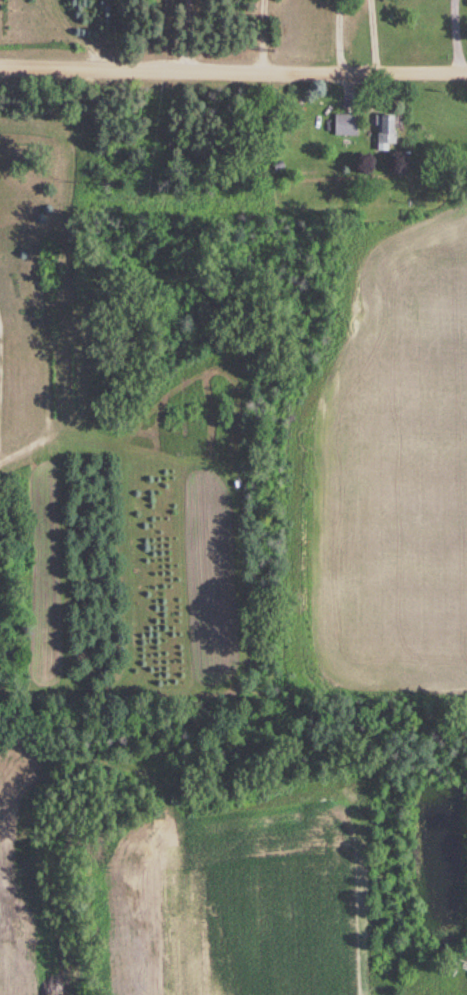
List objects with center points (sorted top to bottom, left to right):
road: (450, 36)
road: (233, 72)
building: (345, 125)
building: (383, 134)

